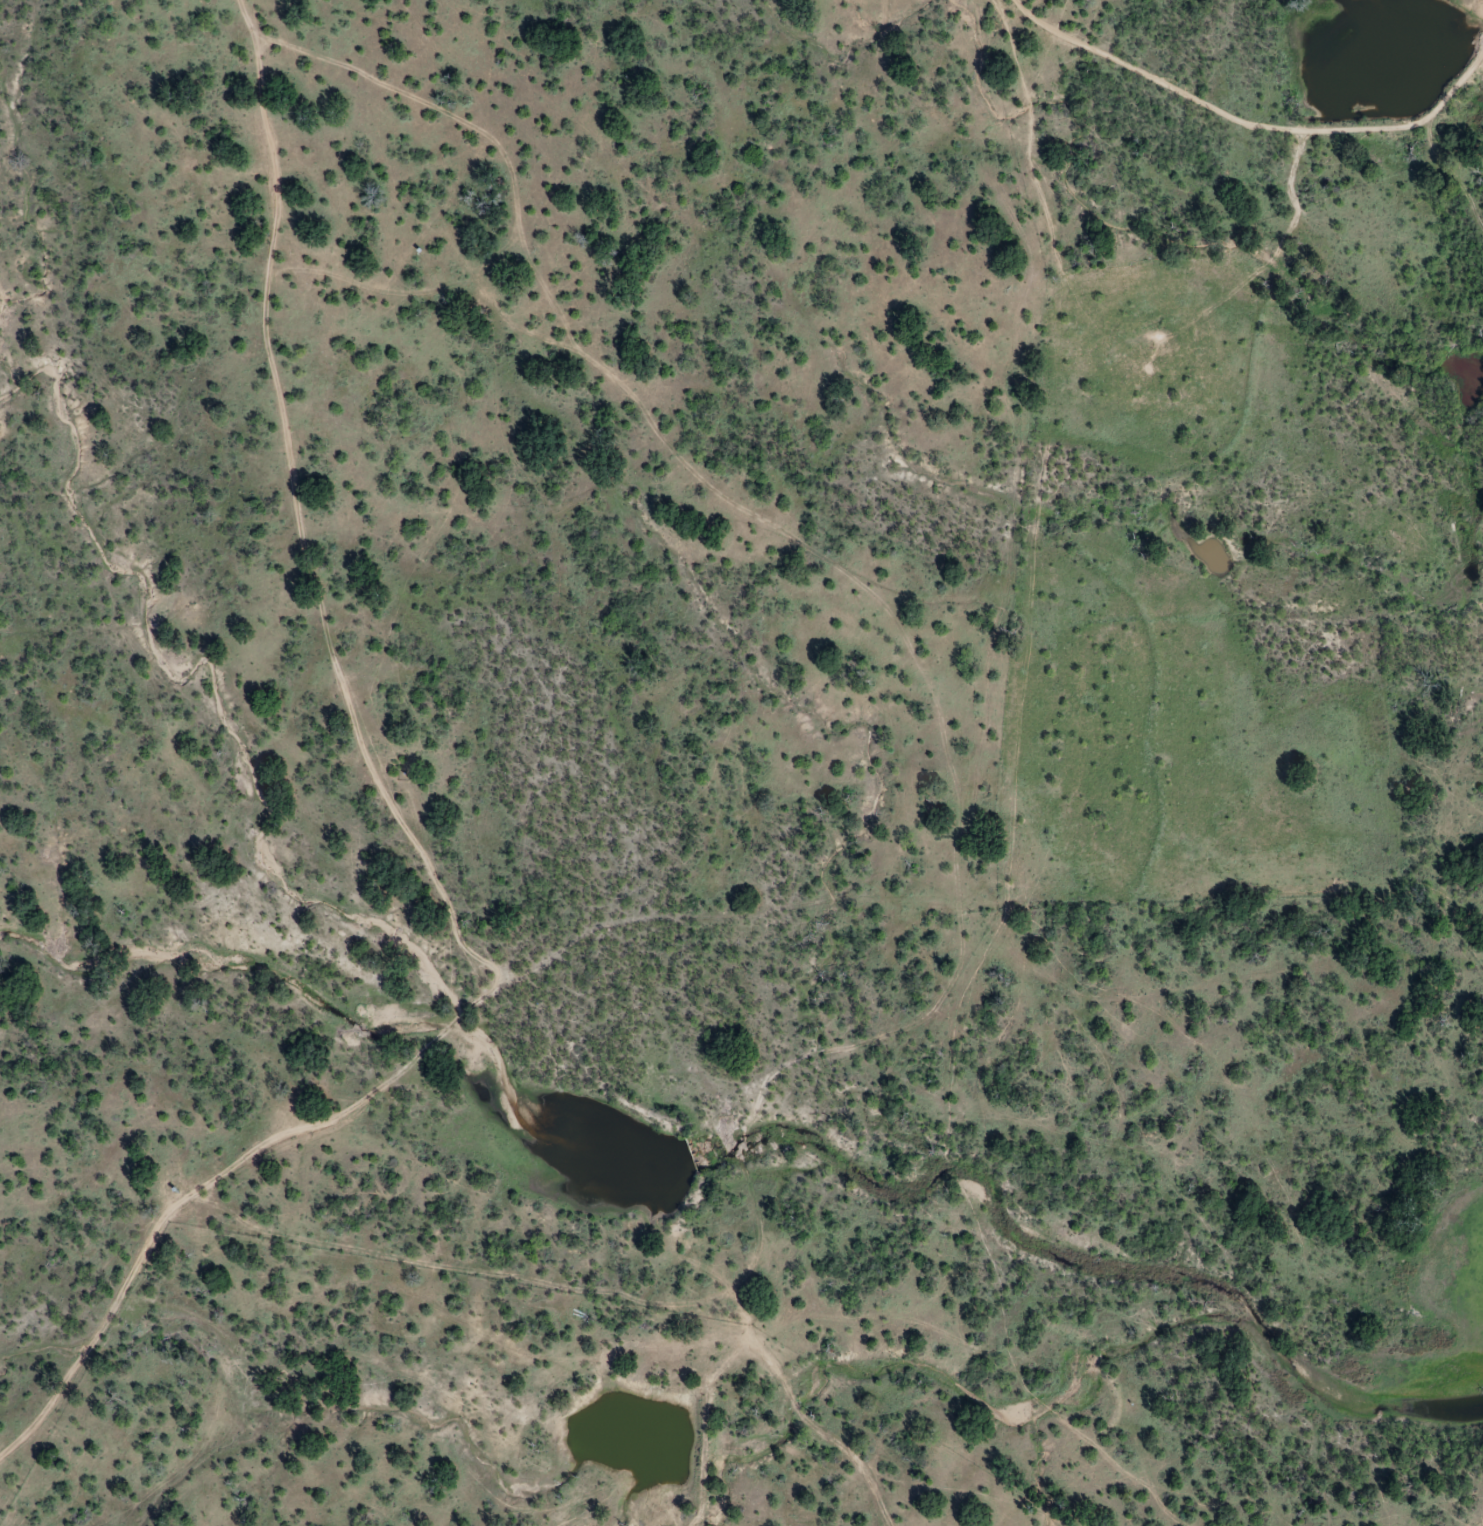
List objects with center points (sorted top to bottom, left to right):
road: (1237, 115)

